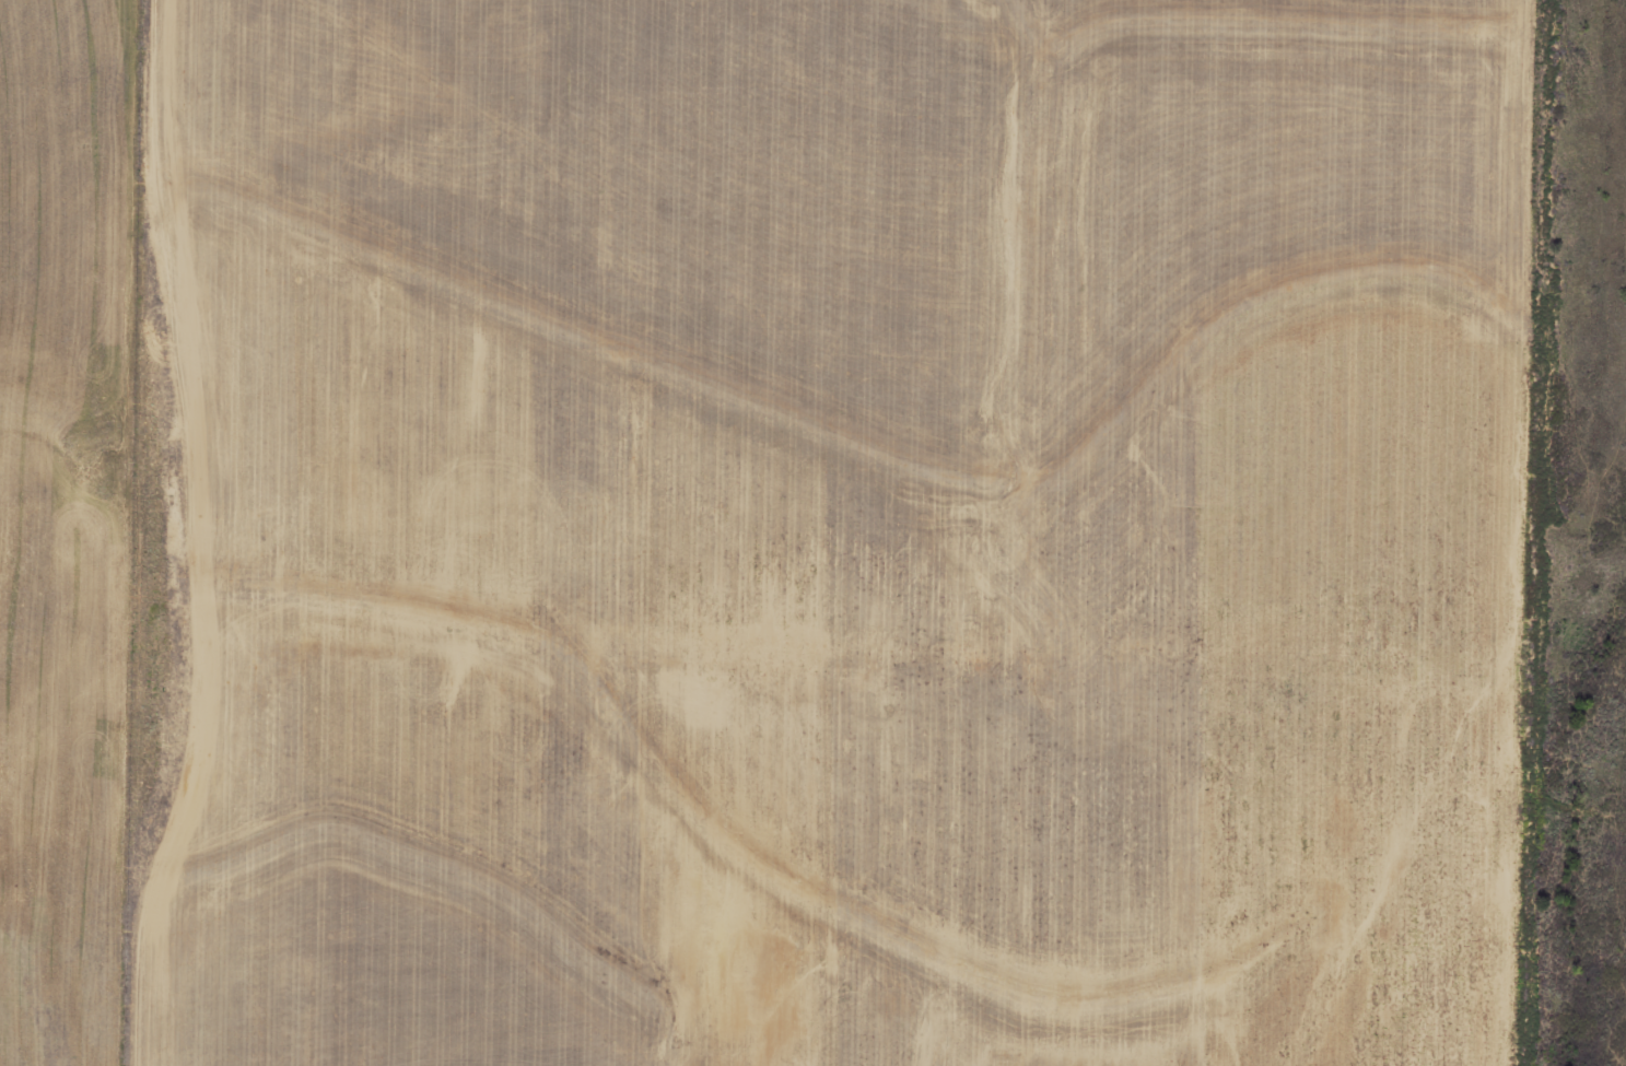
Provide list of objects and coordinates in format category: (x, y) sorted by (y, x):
road: (1520, 553)

